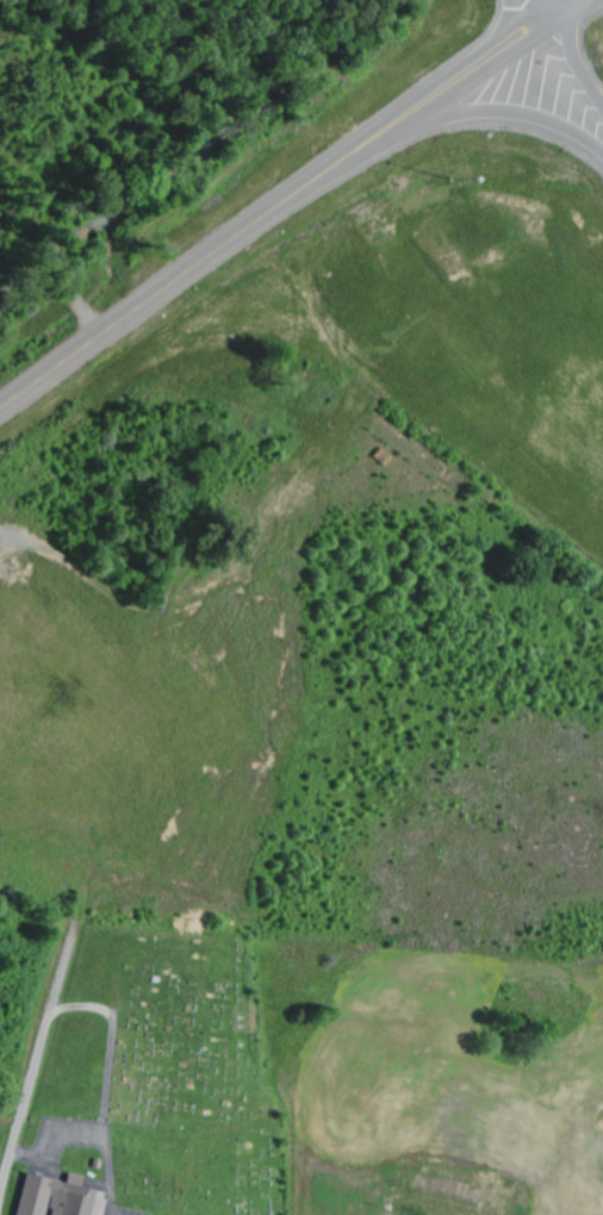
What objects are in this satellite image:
road: (526, 14)
road: (567, 79)
road: (499, 110)
road: (287, 200)
road: (97, 848)
park: (182, 1078)
park: (0, 1124)
road: (7, 1172)
building: (63, 1197)

